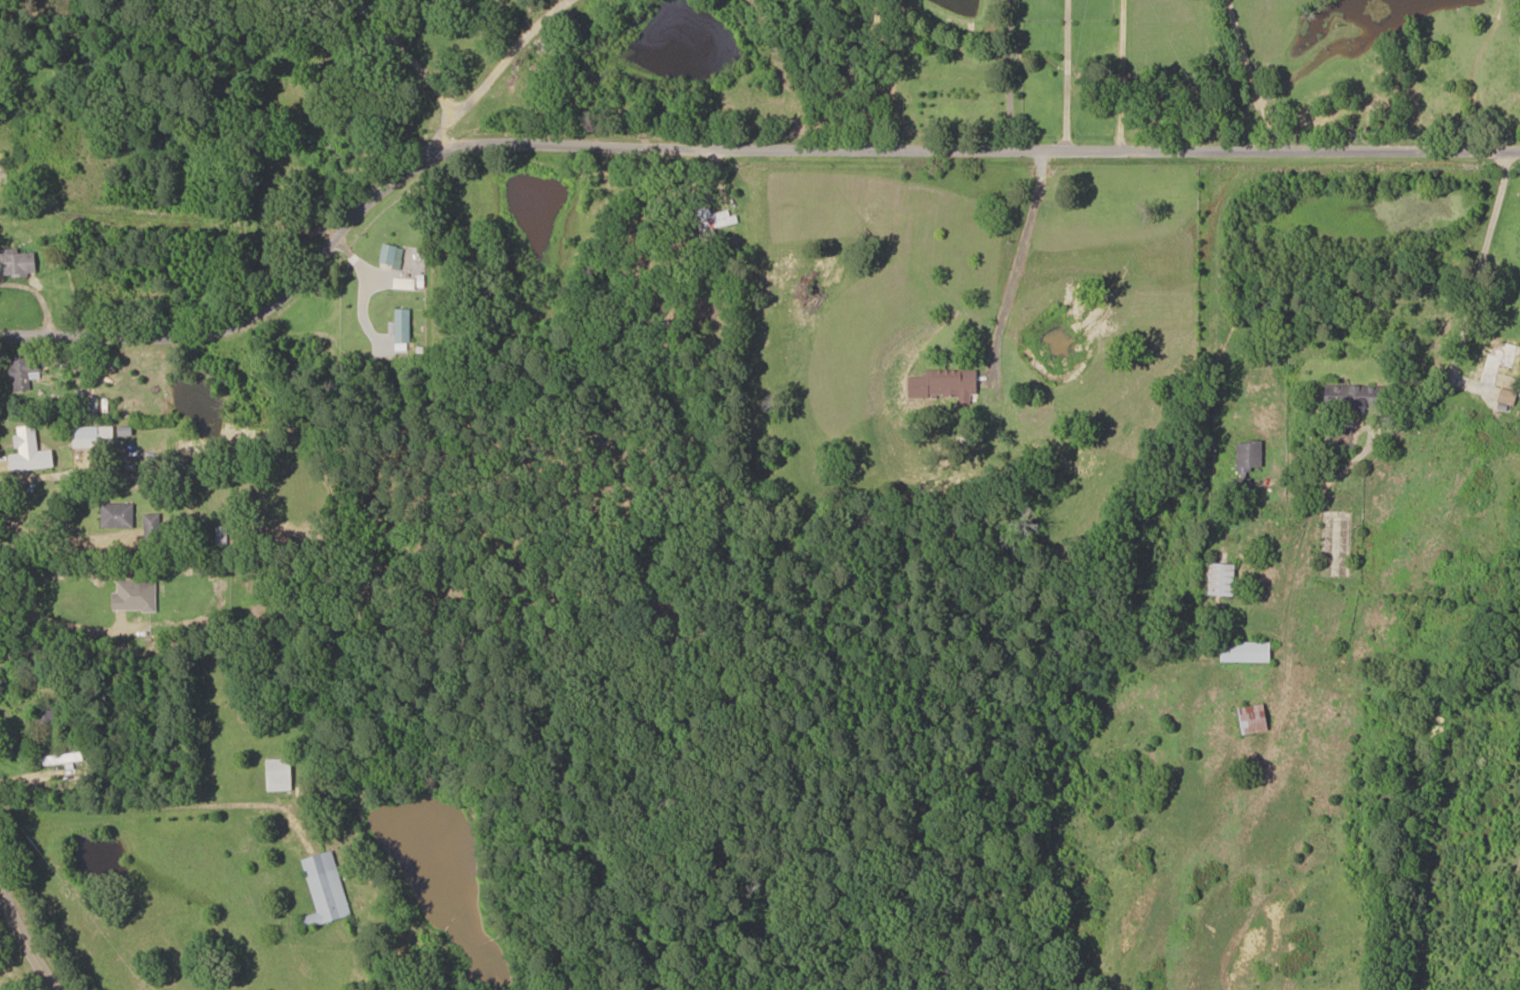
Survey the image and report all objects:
road: (726, 131)
building: (3, 169)
building: (711, 222)
building: (392, 255)
building: (17, 263)
building: (402, 322)
building: (358, 341)
building: (1496, 362)
building: (25, 372)
building: (952, 383)
building: (1504, 396)
building: (1355, 397)
building: (87, 405)
building: (93, 437)
building: (30, 451)
building: (1247, 463)
building: (117, 515)
building: (152, 526)
building: (221, 535)
building: (1337, 547)
building: (1222, 579)
building: (135, 595)
building: (1246, 651)
building: (45, 716)
building: (1254, 719)
building: (1162, 732)
building: (62, 758)
building: (1460, 773)
building: (279, 774)
building: (325, 889)
road: (26, 925)

